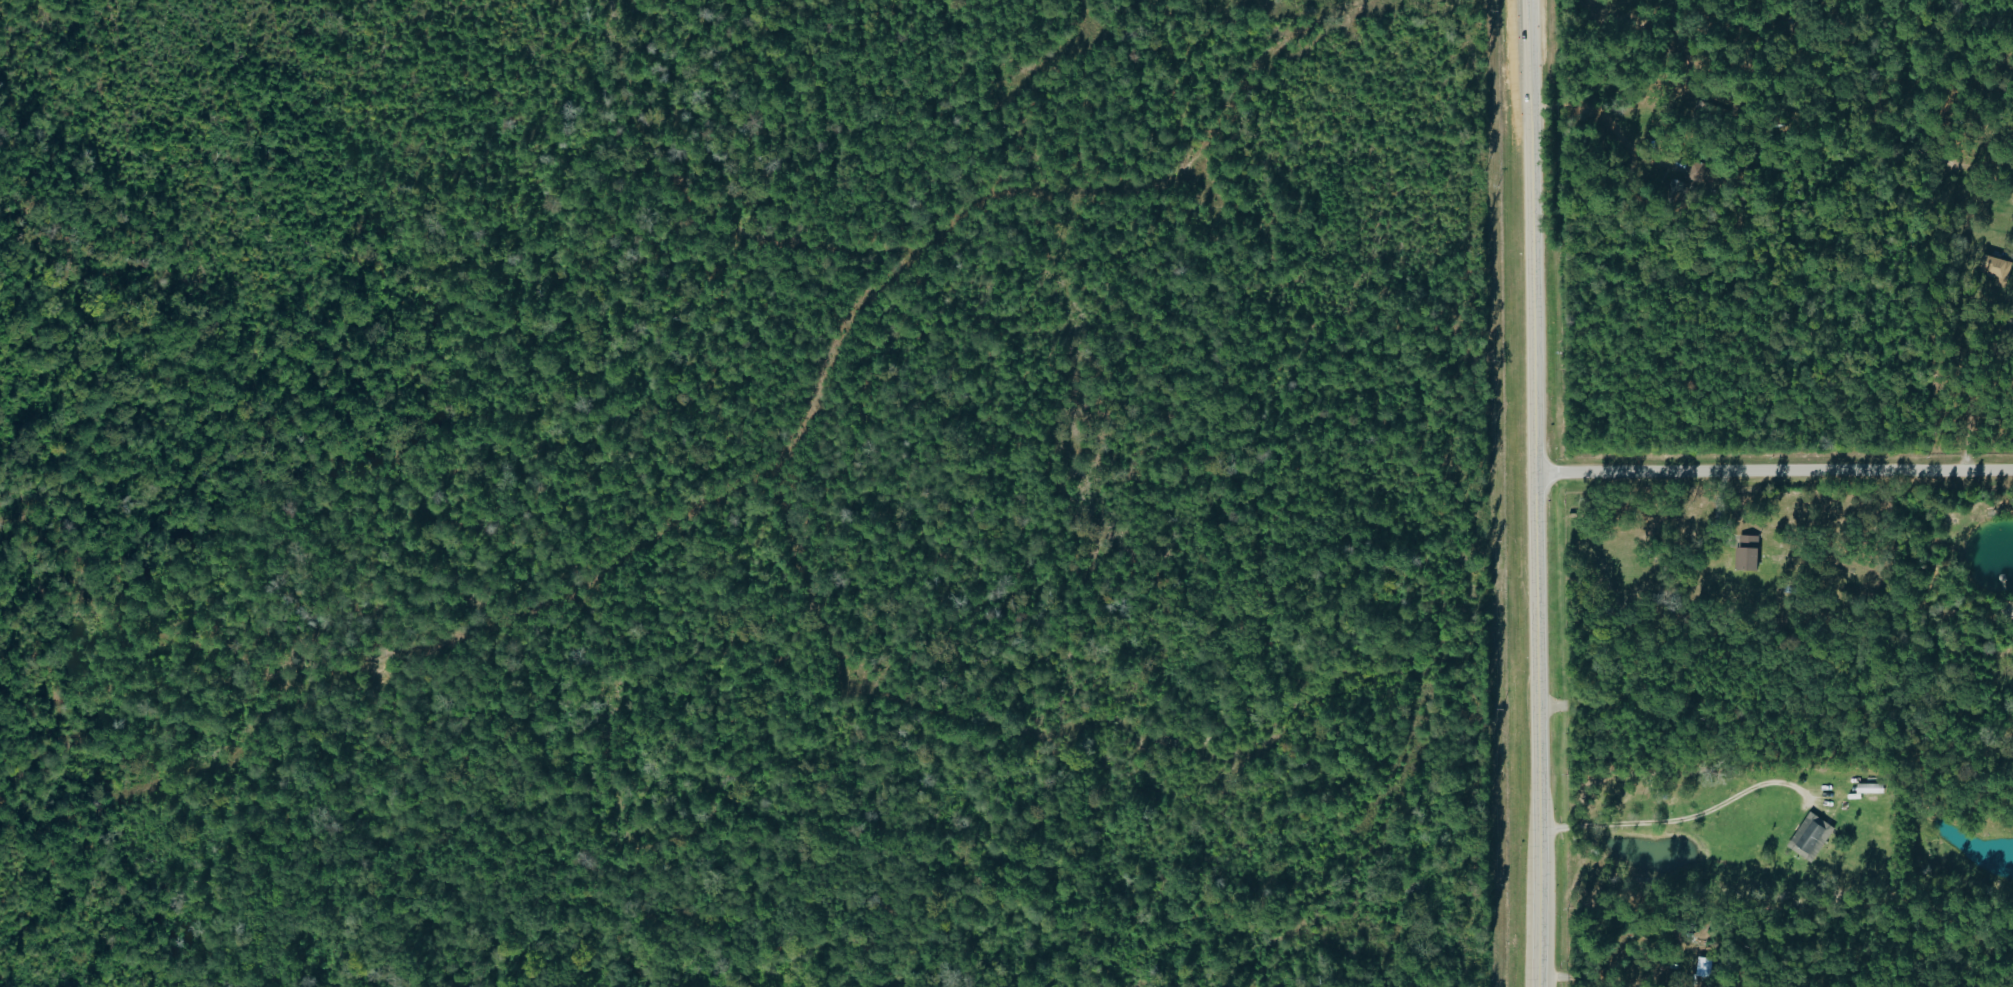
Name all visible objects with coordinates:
building: (1996, 267)
road: (1774, 472)
road: (1535, 493)
building: (1750, 559)
building: (1871, 788)
road: (1671, 823)
building: (1813, 837)

